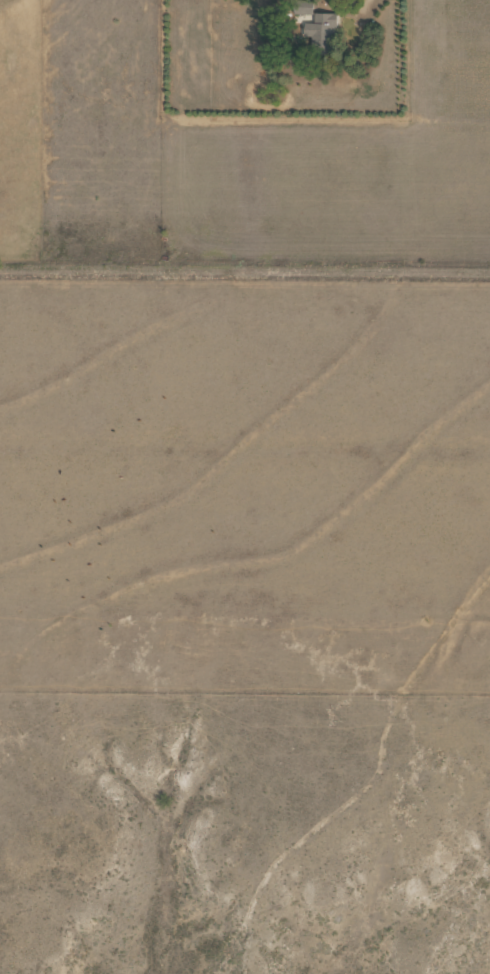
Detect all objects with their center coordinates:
building: (302, 7)
building: (320, 31)

